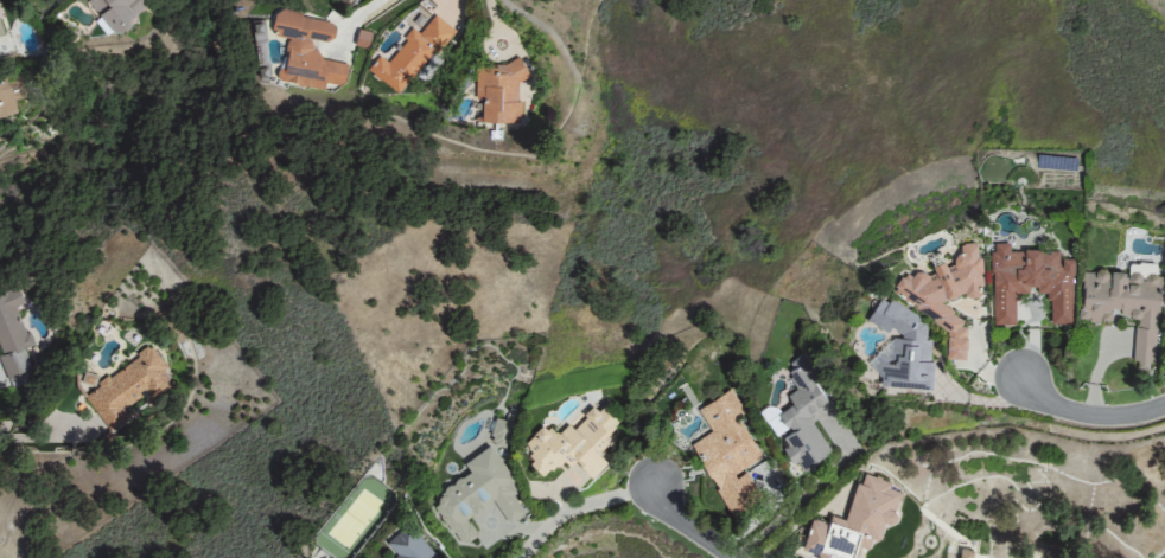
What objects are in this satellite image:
building: (117, 11)
road: (491, 11)
road: (352, 19)
building: (0, 30)
building: (306, 51)
building: (409, 56)
building: (9, 92)
building: (497, 92)
building: (1030, 282)
building: (944, 293)
building: (1123, 306)
building: (12, 336)
building: (903, 346)
building: (128, 389)
road: (1091, 413)
building: (803, 417)
building: (499, 431)
road: (25, 437)
building: (571, 443)
building: (727, 451)
building: (477, 493)
road: (577, 508)
road: (791, 508)
building: (853, 521)
road: (687, 526)
building: (407, 544)

